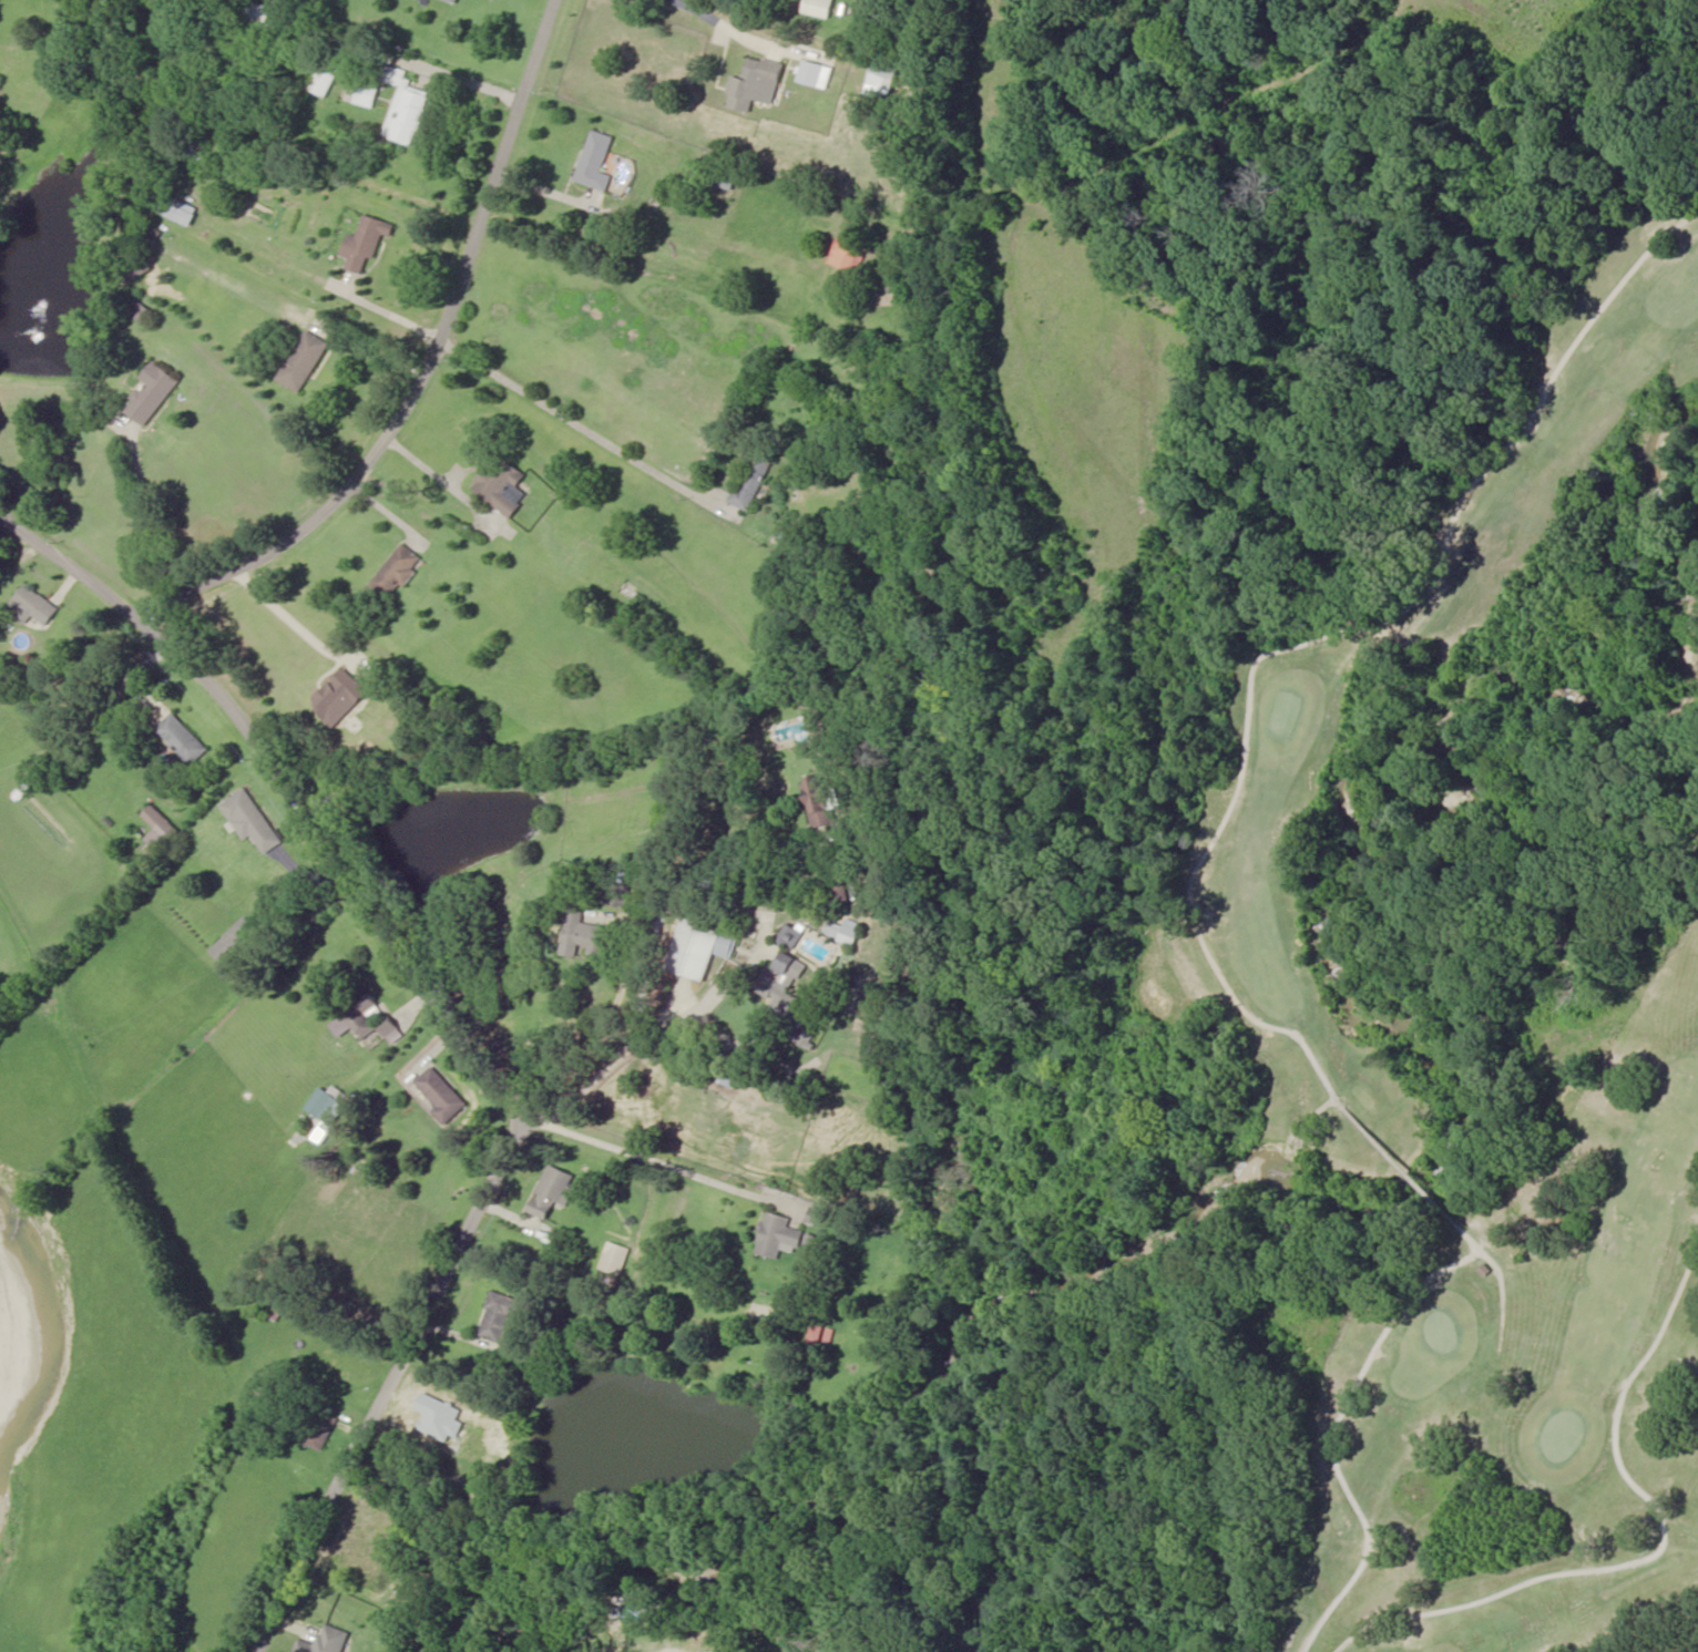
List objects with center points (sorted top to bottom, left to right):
building: (454, 0)
building: (256, 12)
building: (807, 68)
building: (889, 76)
building: (326, 78)
building: (757, 83)
building: (364, 92)
building: (403, 105)
building: (198, 150)
road: (1290, 158)
building: (595, 161)
building: (723, 174)
building: (176, 208)
building: (150, 233)
building: (366, 242)
building: (847, 255)
building: (140, 271)
building: (141, 309)
road: (429, 352)
building: (304, 361)
building: (153, 393)
building: (751, 476)
building: (501, 485)
building: (397, 571)
road: (81, 581)
building: (181, 738)
building: (820, 801)
building: (250, 820)
building: (156, 828)
building: (848, 931)
building: (585, 934)
building: (791, 936)
building: (229, 938)
building: (702, 947)
building: (789, 993)
road: (700, 1001)
road: (800, 1009)
building: (360, 1018)
park: (1413, 1028)
building: (440, 1095)
building: (324, 1110)
road: (497, 1114)
building: (553, 1192)
building: (778, 1235)
building: (614, 1259)
building: (765, 1313)
building: (502, 1318)
building: (318, 1427)
building: (327, 1641)

